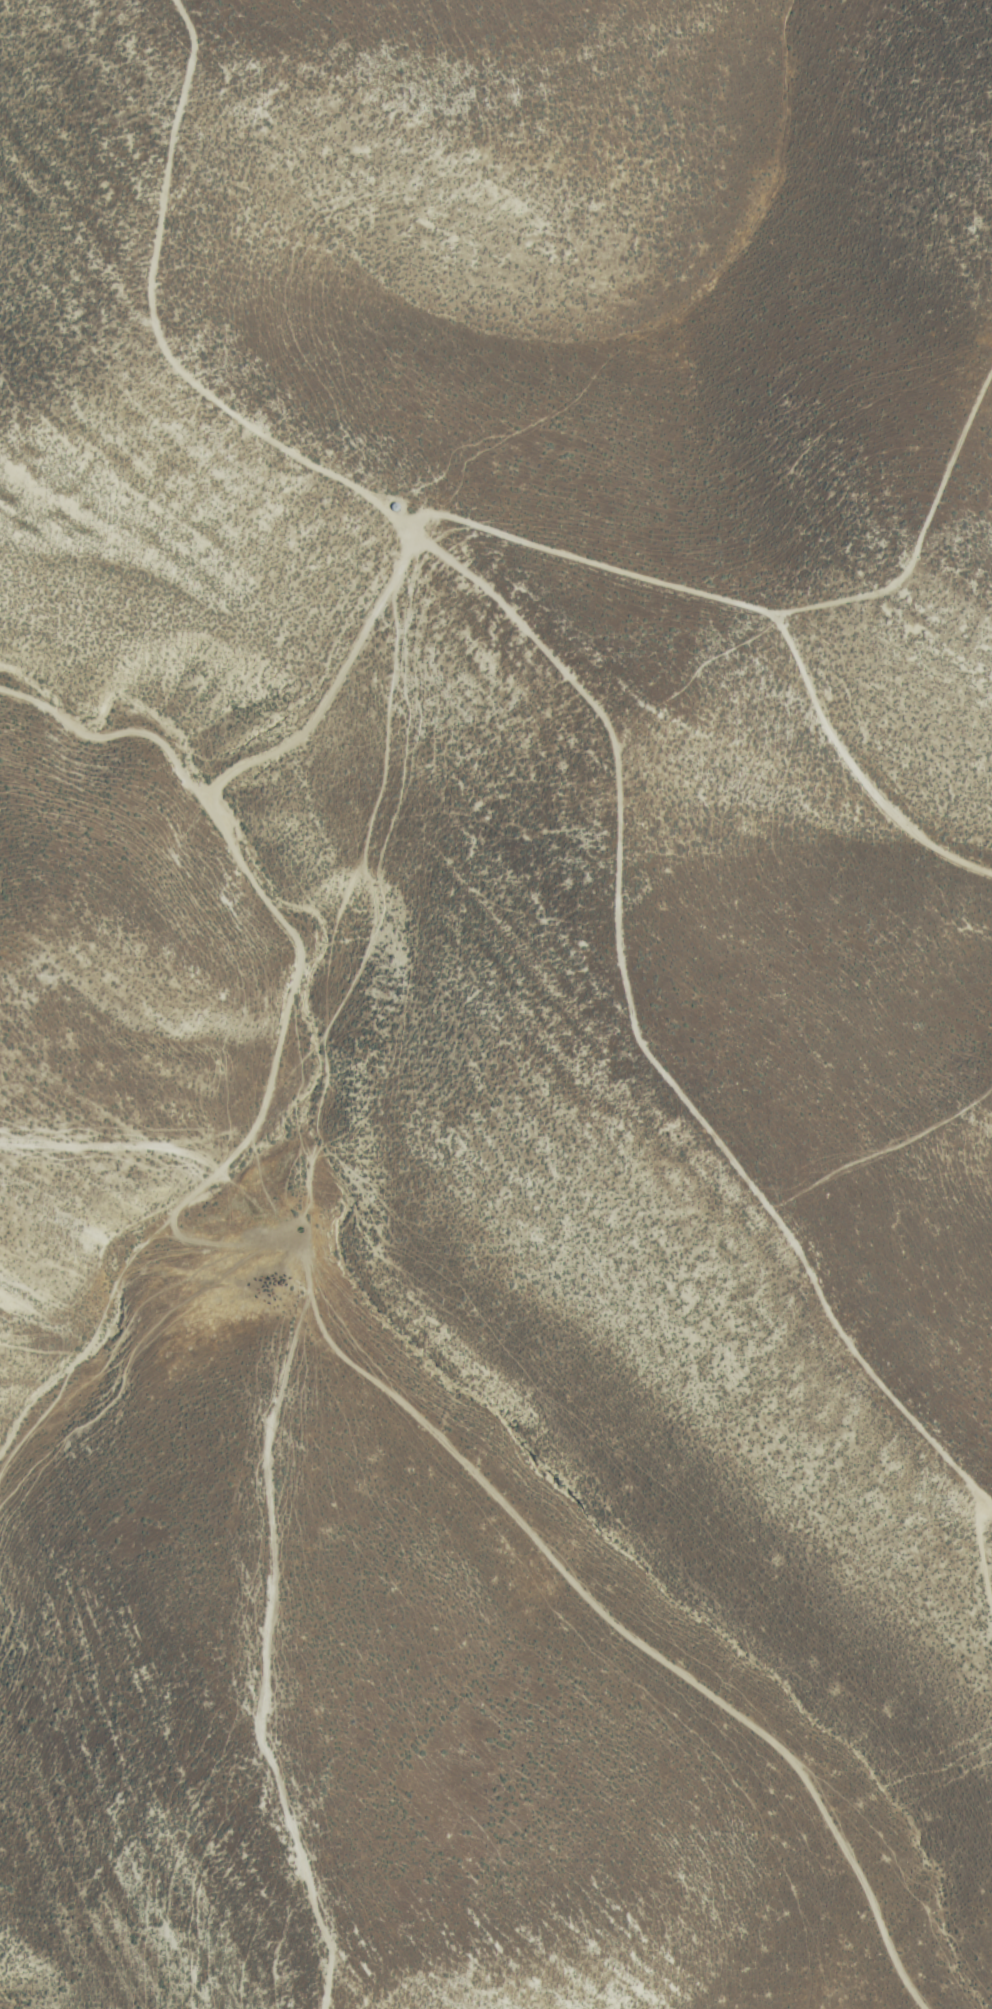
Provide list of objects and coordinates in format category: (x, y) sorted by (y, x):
road: (156, 271)
storage tank: (395, 507)
road: (682, 588)
road: (964, 861)
road: (639, 1024)
road: (984, 1510)
road: (264, 1570)
road: (836, 1829)

